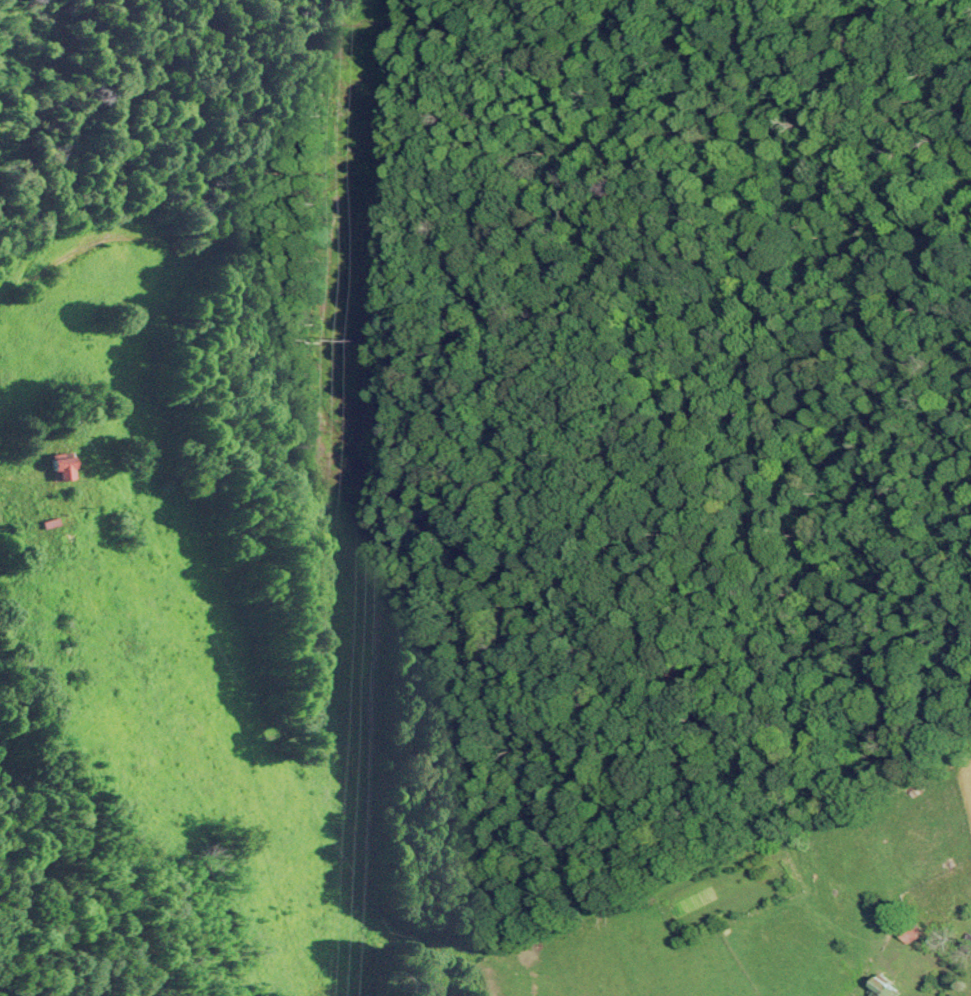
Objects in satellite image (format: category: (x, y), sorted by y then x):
road: (258, 215)
building: (60, 464)

